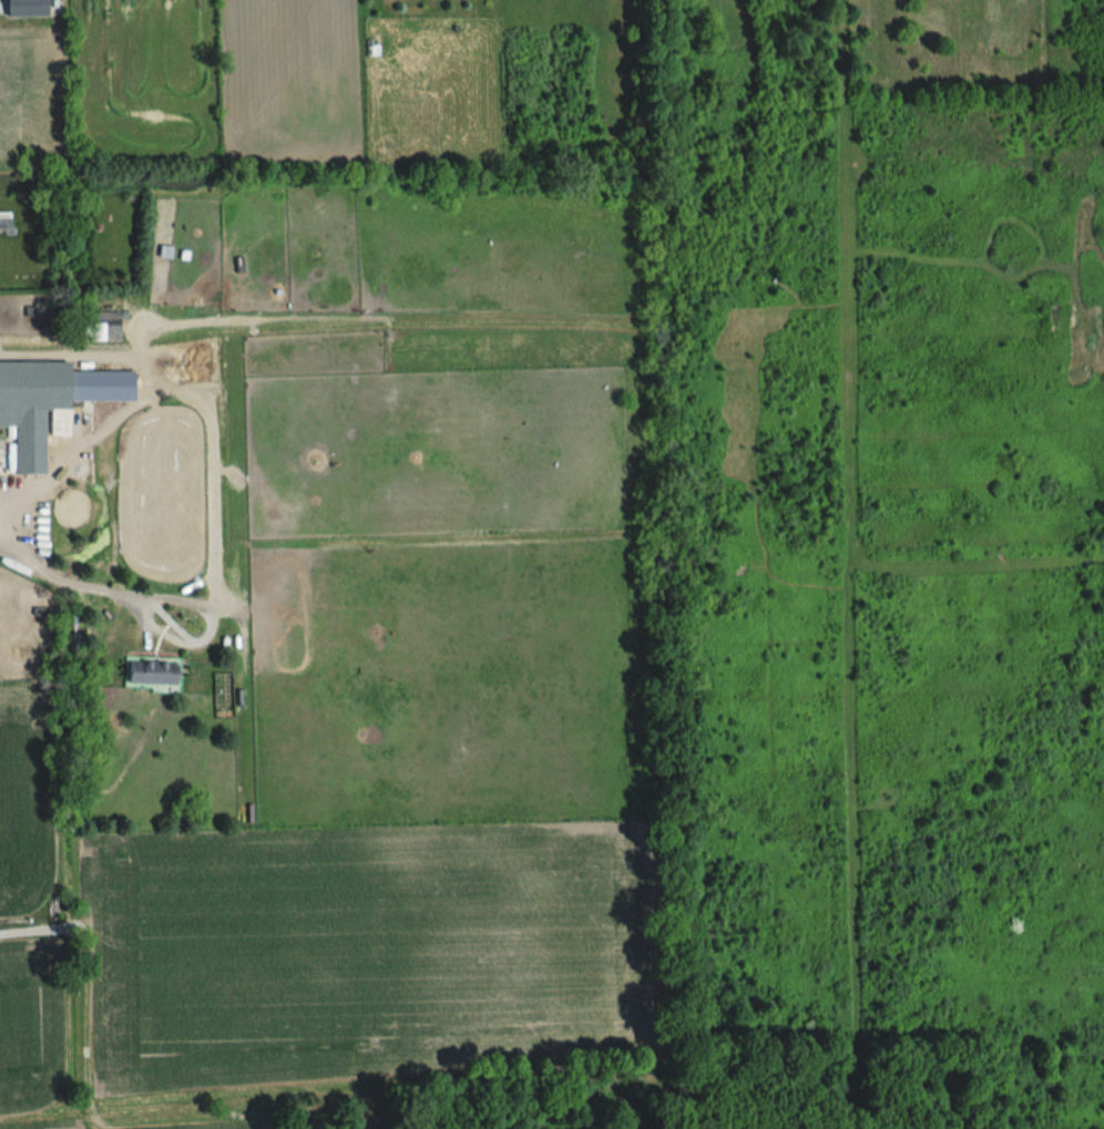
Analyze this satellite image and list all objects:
crop: (283, 76)
crop: (27, 92)
building: (4, 224)
building: (99, 326)
building: (48, 403)
road: (65, 581)
building: (149, 673)
crop: (29, 800)
road: (25, 931)
crop: (366, 954)
crop: (33, 1028)
crop: (202, 1126)

